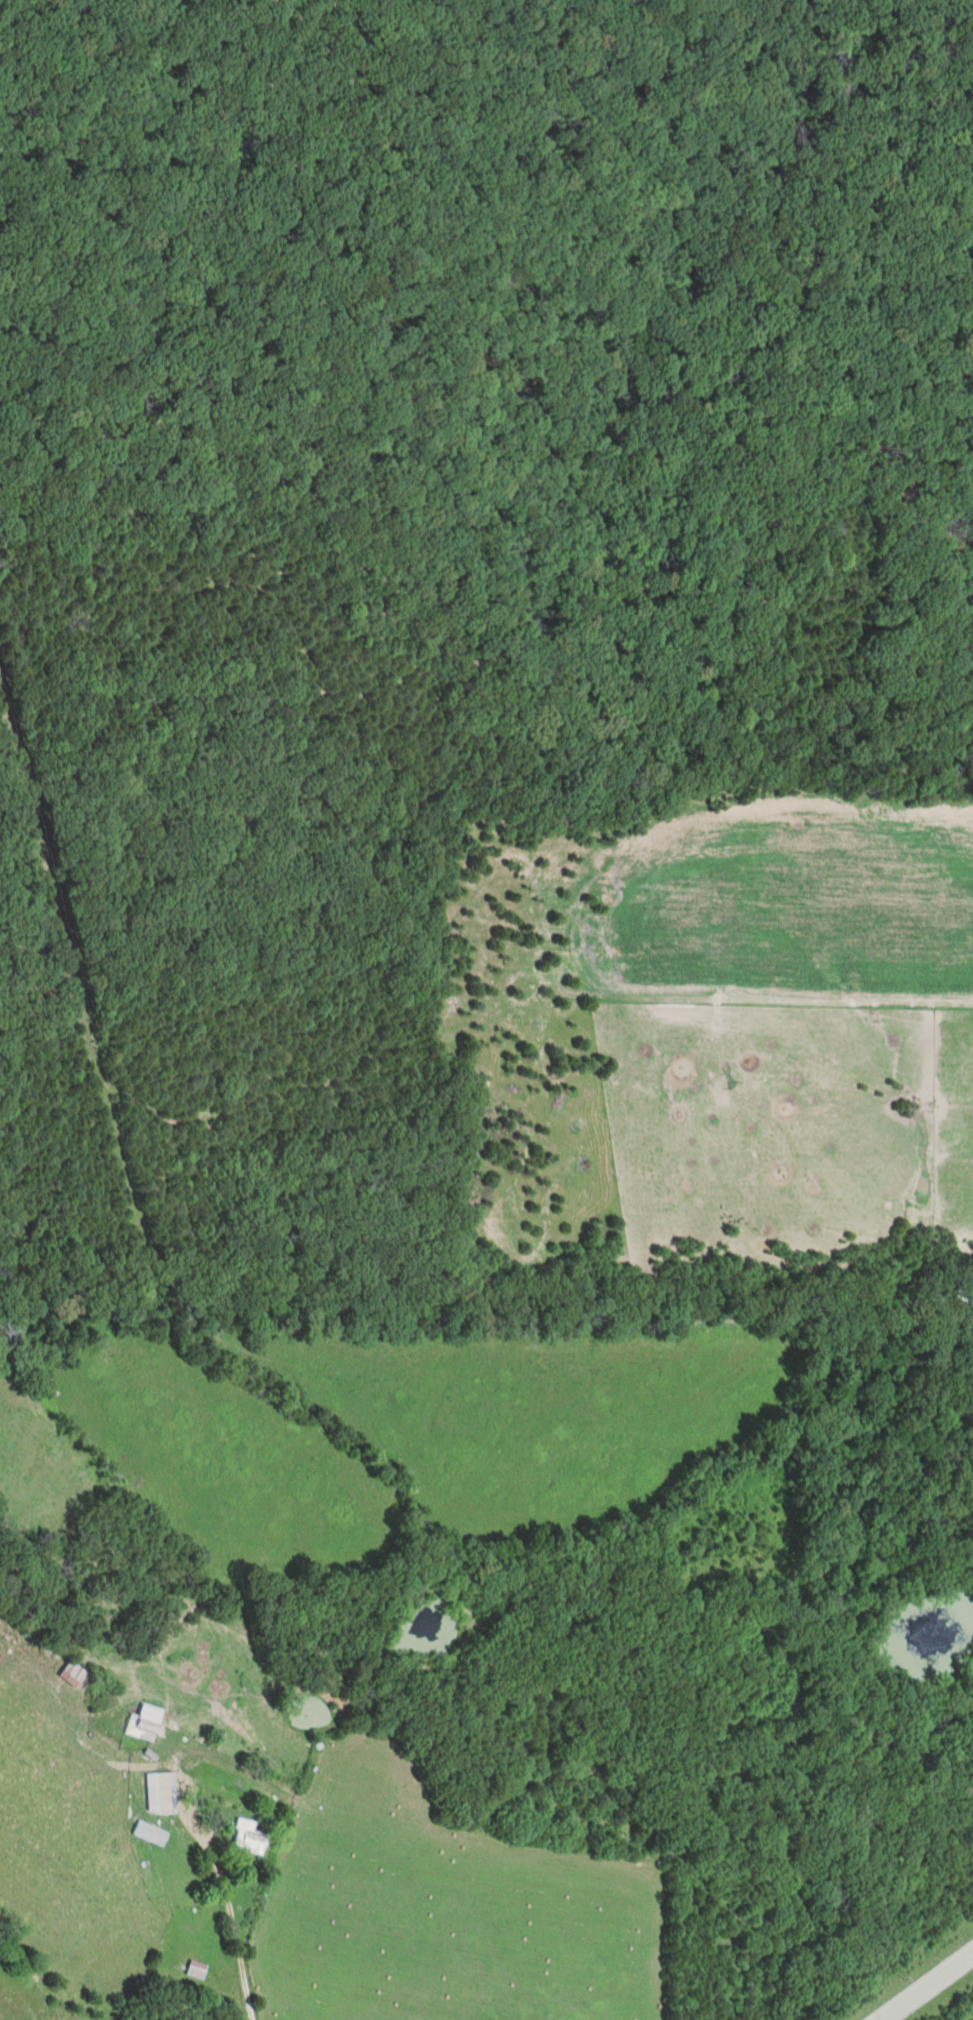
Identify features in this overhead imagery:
building: (72, 1675)
building: (143, 1725)
building: (161, 1795)
building: (150, 1834)
building: (247, 1838)
road: (240, 1969)
building: (197, 1970)
road: (928, 1987)

